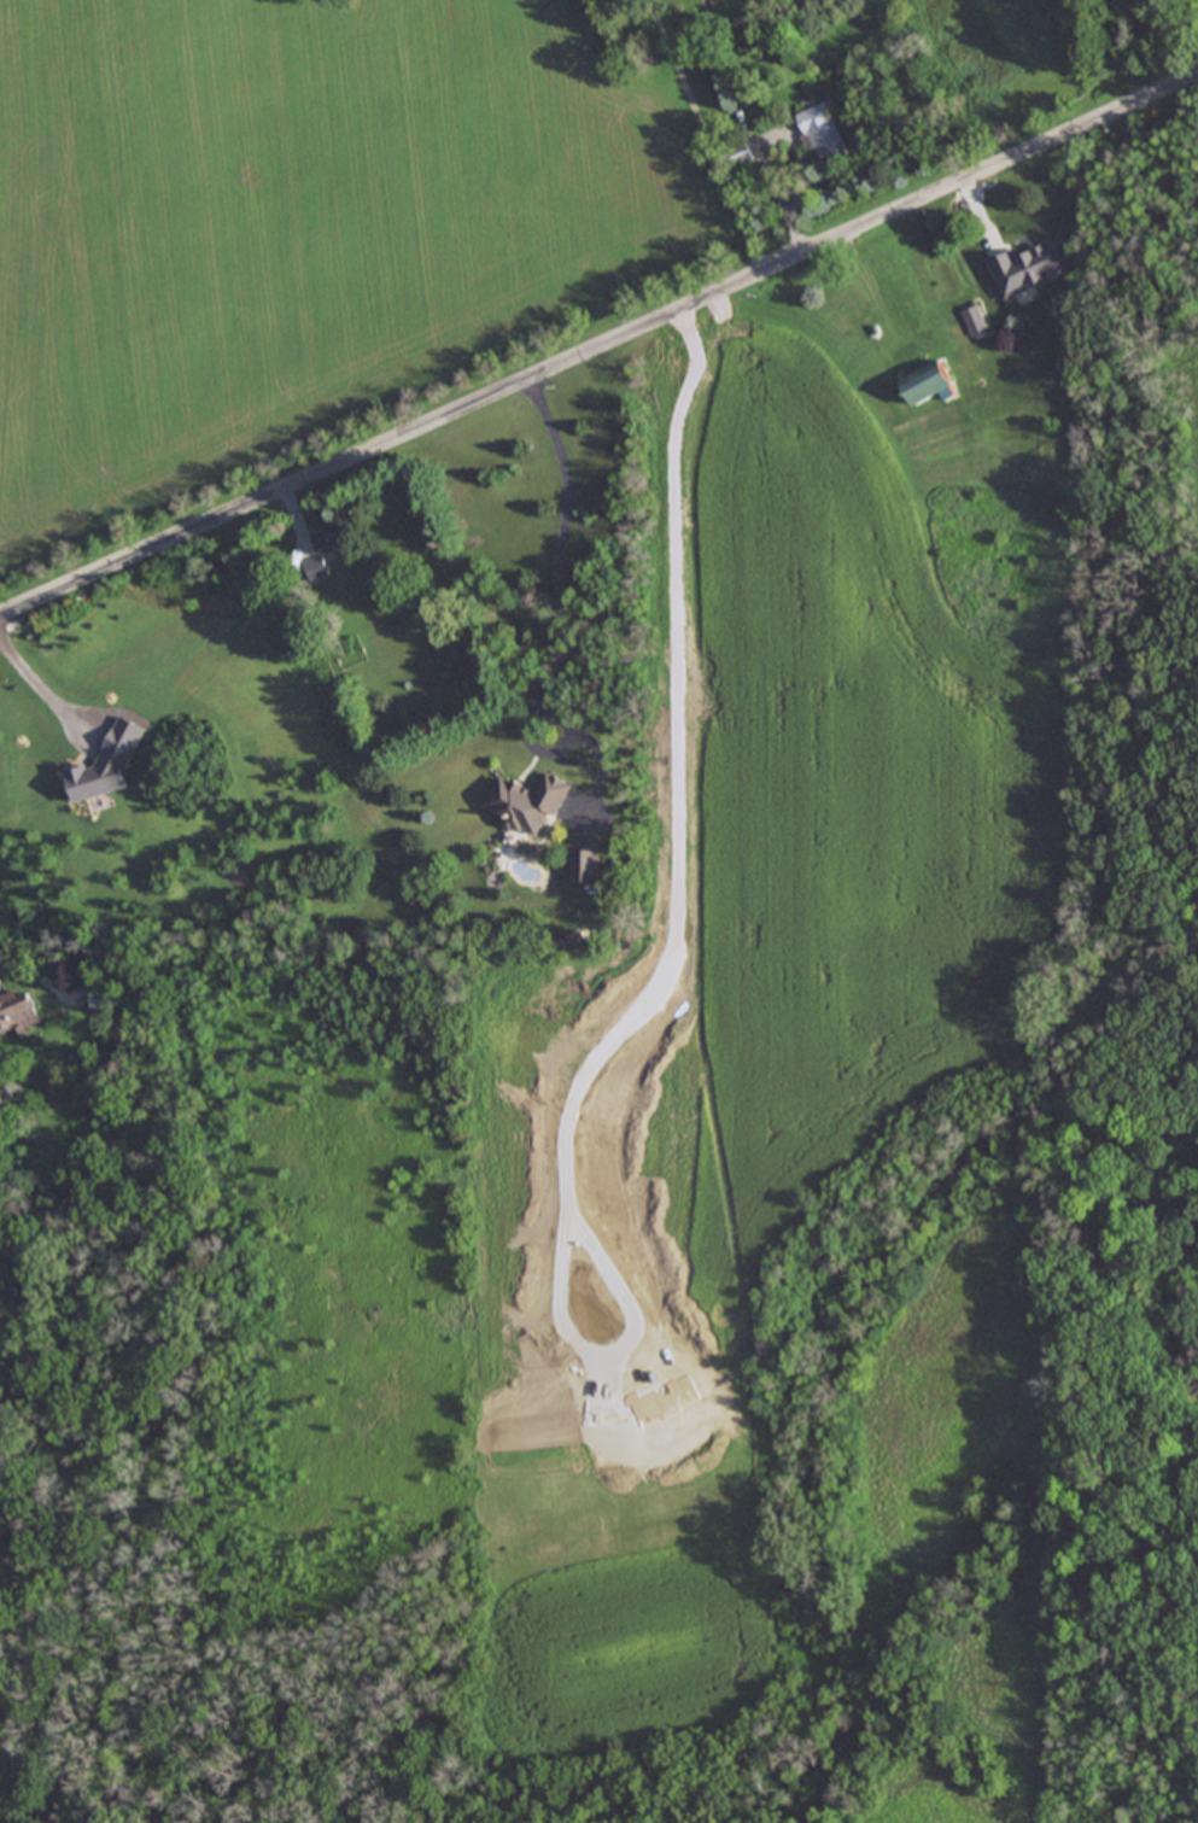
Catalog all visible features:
building: (823, 132)
building: (1029, 267)
building: (975, 319)
road: (598, 360)
building: (929, 382)
building: (326, 549)
road: (554, 618)
building: (526, 802)
building: (584, 865)
building: (104, 998)
building: (17, 1010)

